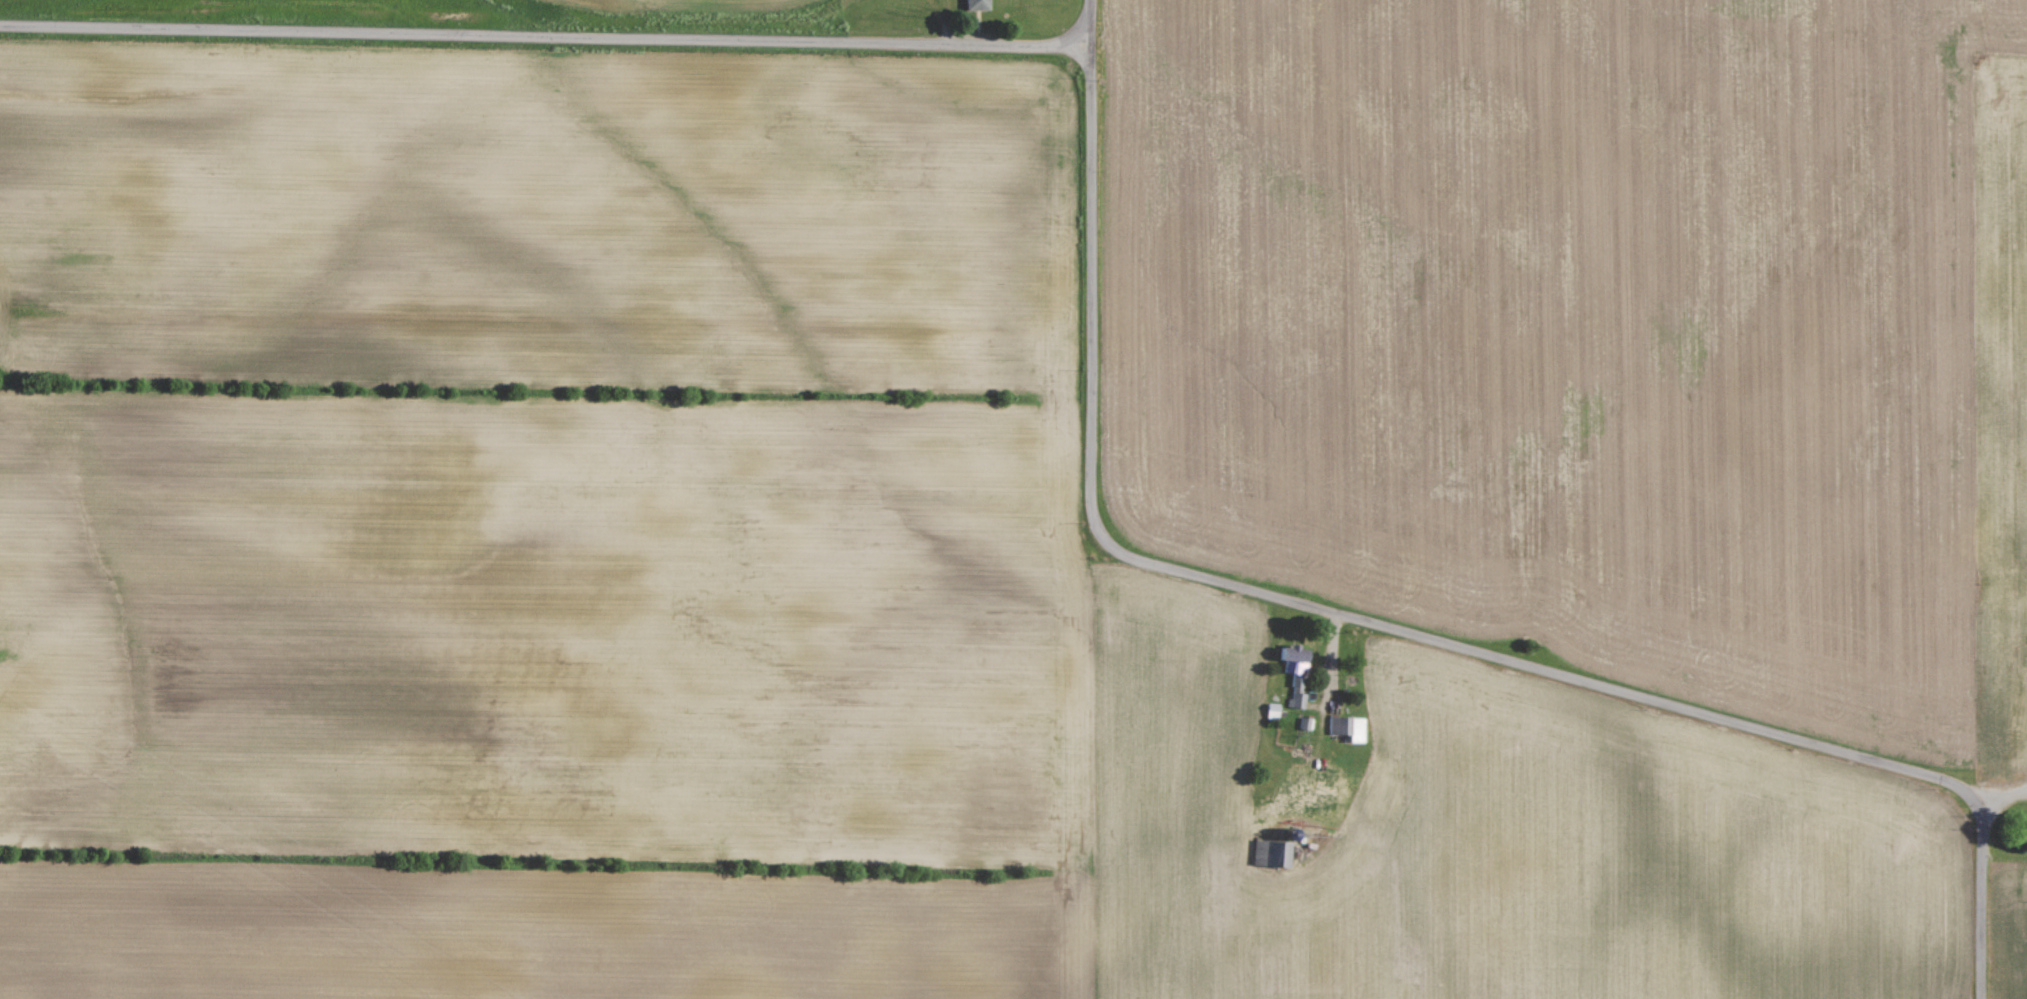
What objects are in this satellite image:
building: (980, 4)
road: (544, 37)
road: (1088, 253)
road: (1331, 654)
building: (1296, 655)
road: (1618, 691)
building: (1349, 728)
road: (2003, 800)

